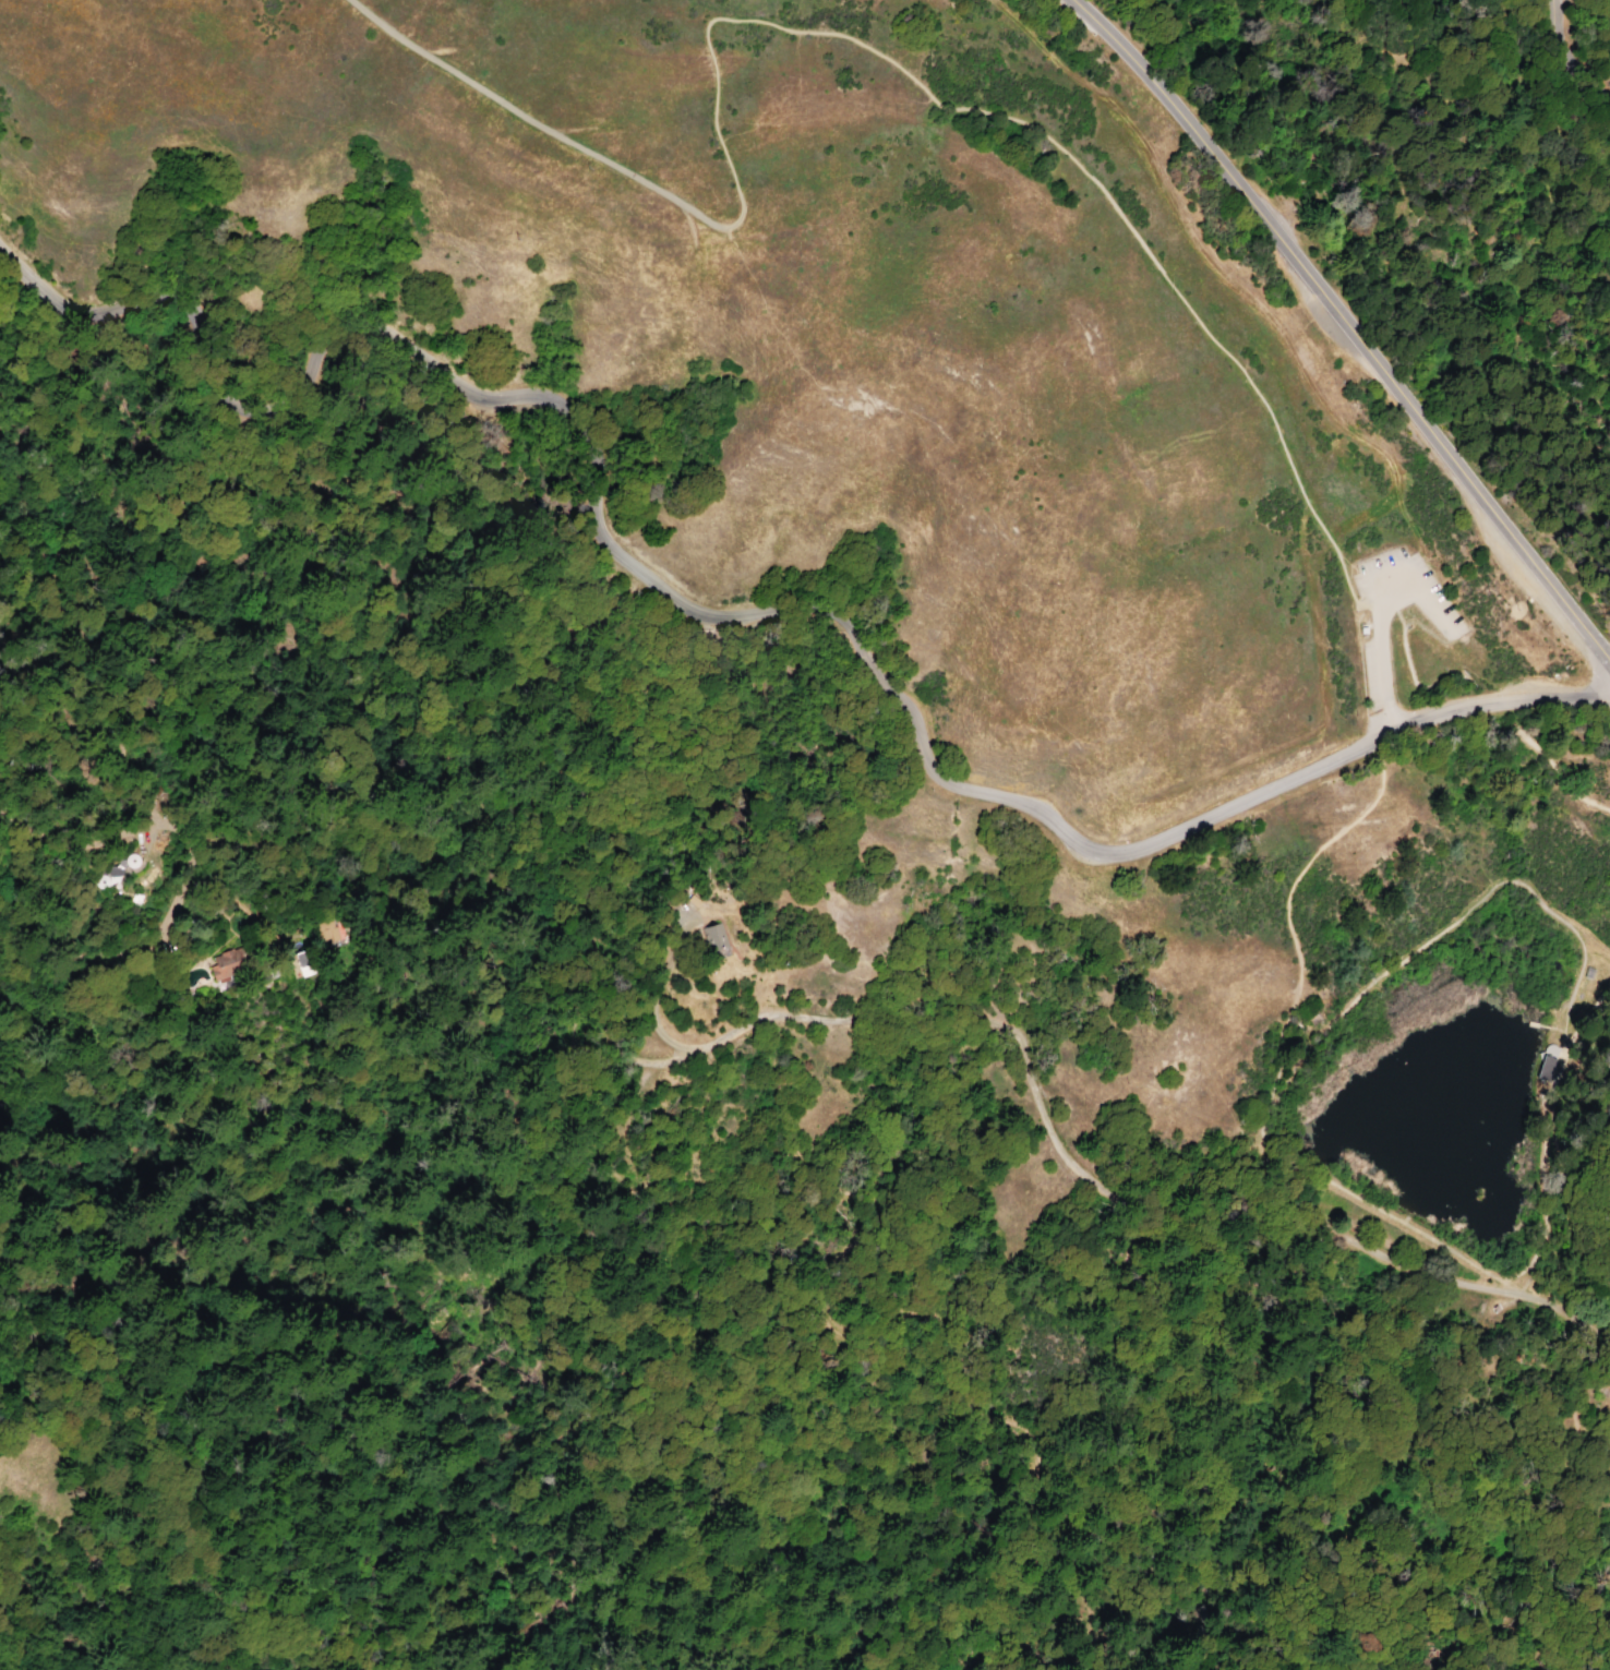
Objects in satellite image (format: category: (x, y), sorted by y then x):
road: (1571, 57)
road: (1018, 123)
road: (534, 124)
road: (1348, 324)
road: (635, 567)
road: (1370, 590)
road: (1425, 629)
parking lot: (1452, 630)
road: (1382, 664)
road: (44, 681)
road: (1419, 686)
road: (1500, 702)
road: (396, 726)
road: (1383, 735)
road: (1551, 767)
road: (1284, 910)
road: (1456, 918)
building: (712, 939)
building: (228, 961)
road: (1375, 984)
road: (1588, 1012)
road: (1559, 1016)
road: (654, 1023)
road: (1535, 1025)
road: (1549, 1028)
road: (1553, 1045)
building: (1547, 1067)
road: (1028, 1078)
road: (1263, 1119)
road: (1541, 1172)
road: (1286, 1186)
road: (1564, 1191)
road: (1390, 1216)
road: (850, 1245)
road: (1421, 1274)
road: (1566, 1311)
road: (1581, 1422)
road: (1595, 1434)
road: (1587, 1620)

